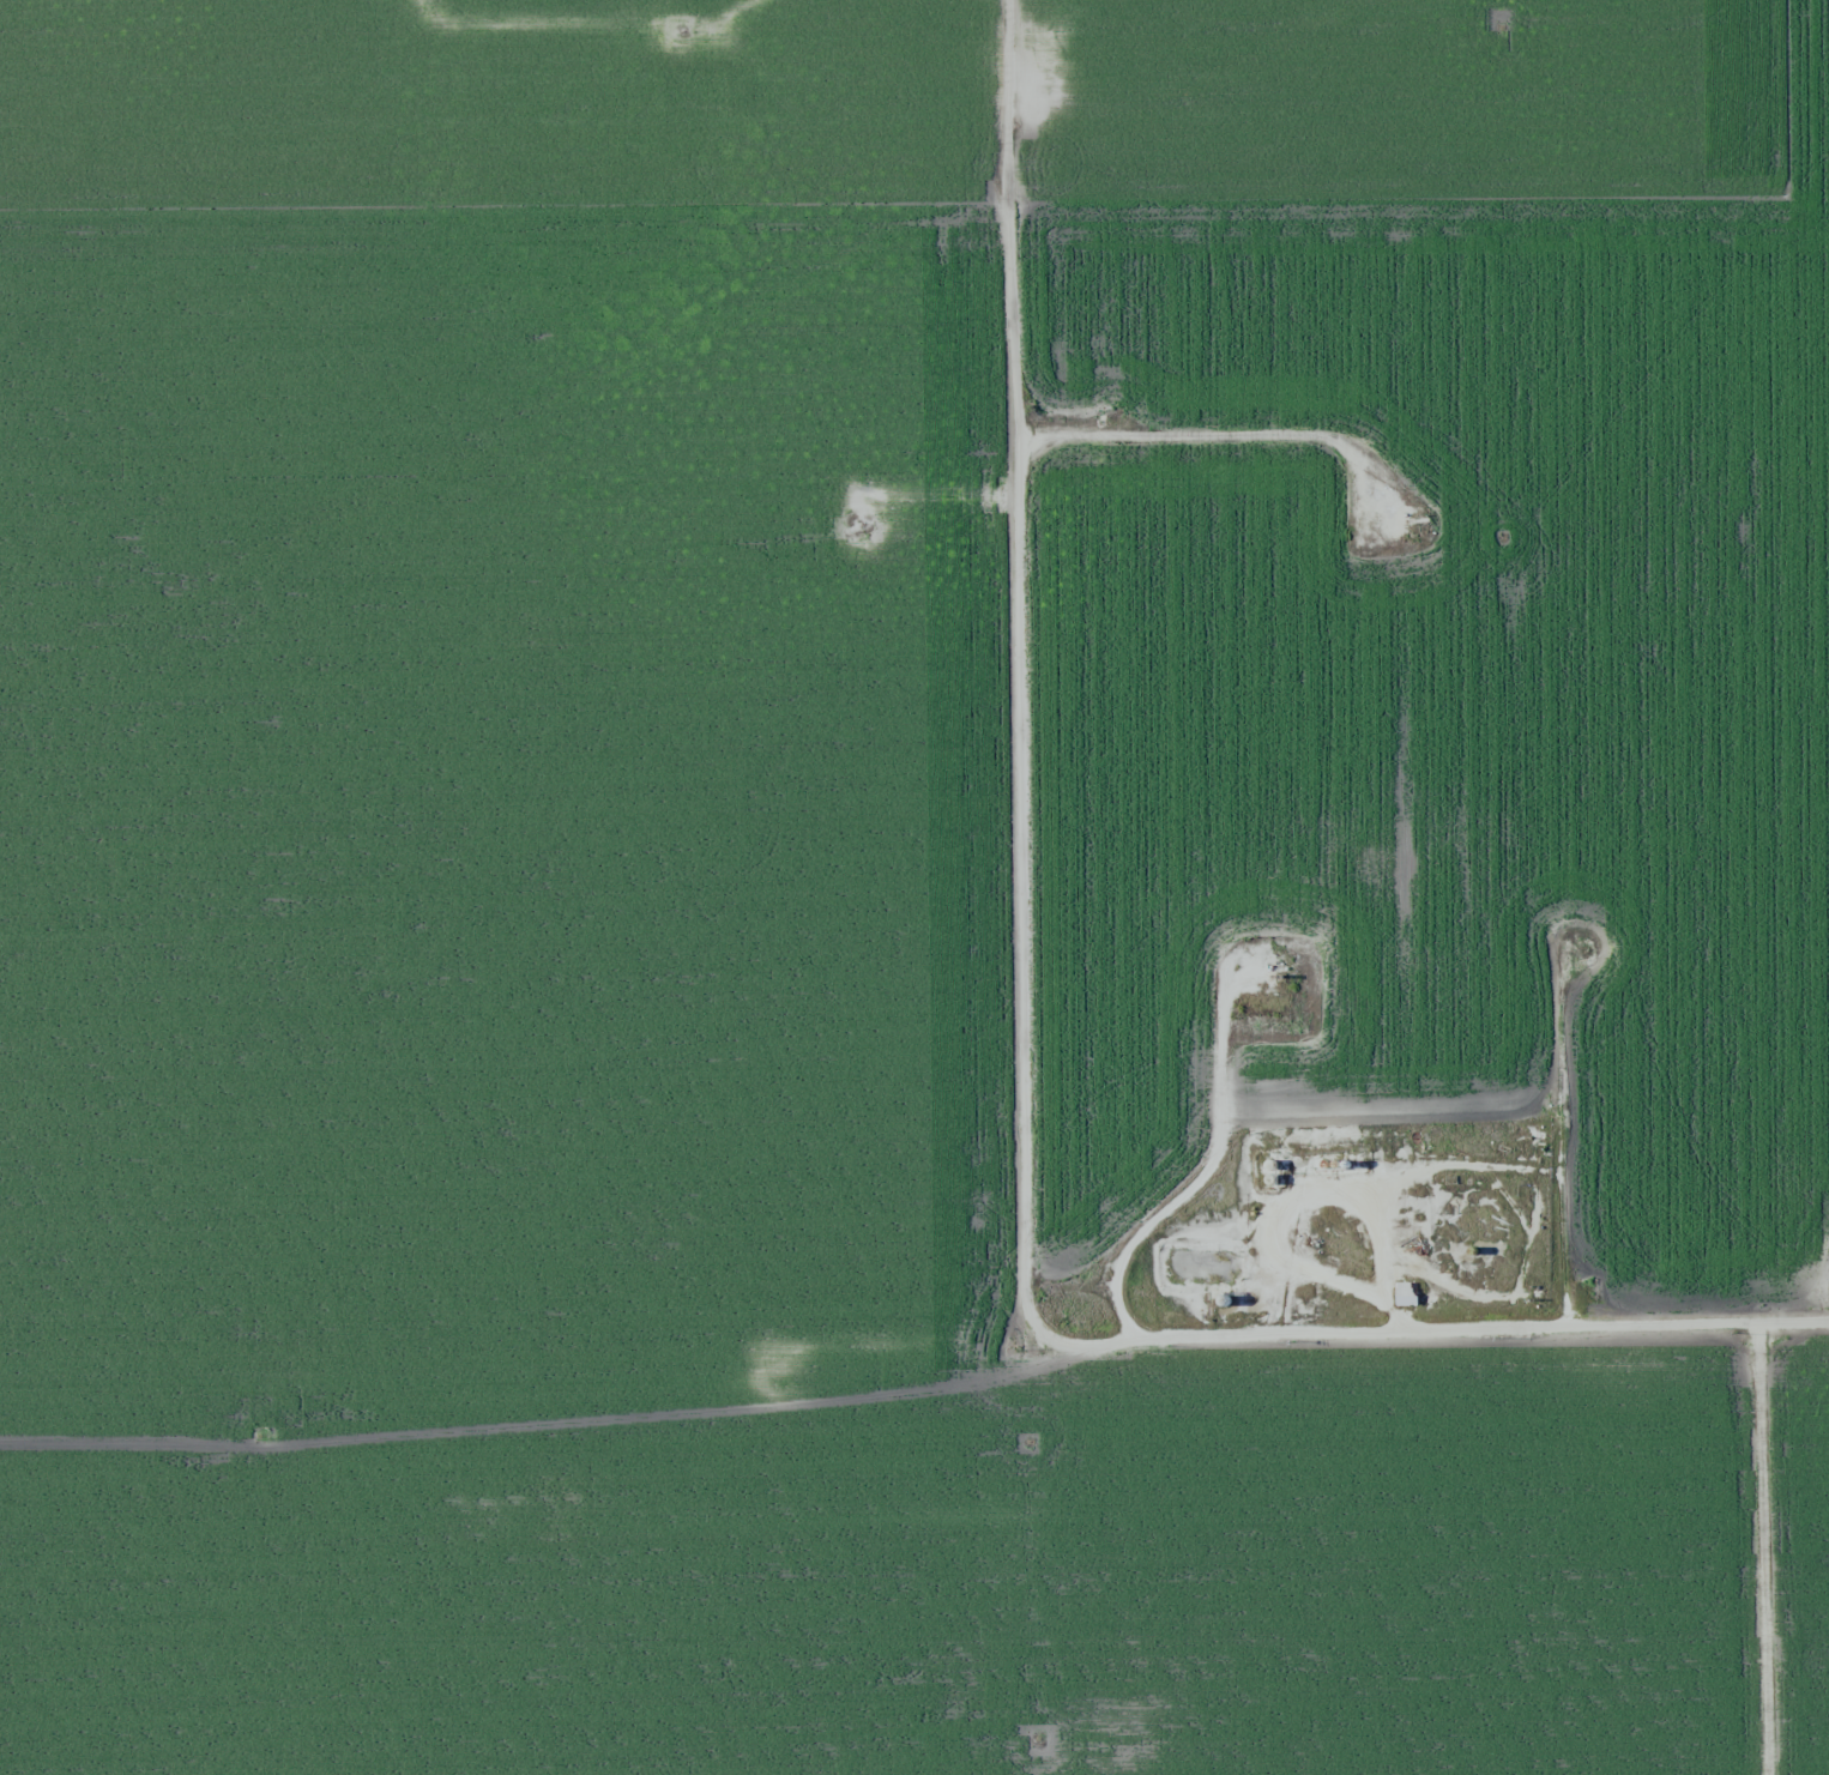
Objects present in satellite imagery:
road: (1015, 676)
building: (1324, 1163)
building: (1334, 1163)
building: (1345, 1163)
building: (1270, 1164)
building: (1270, 1178)
building: (1471, 1249)
building: (1469, 1269)
building: (1406, 1293)
building: (1223, 1299)
road: (1439, 1334)

